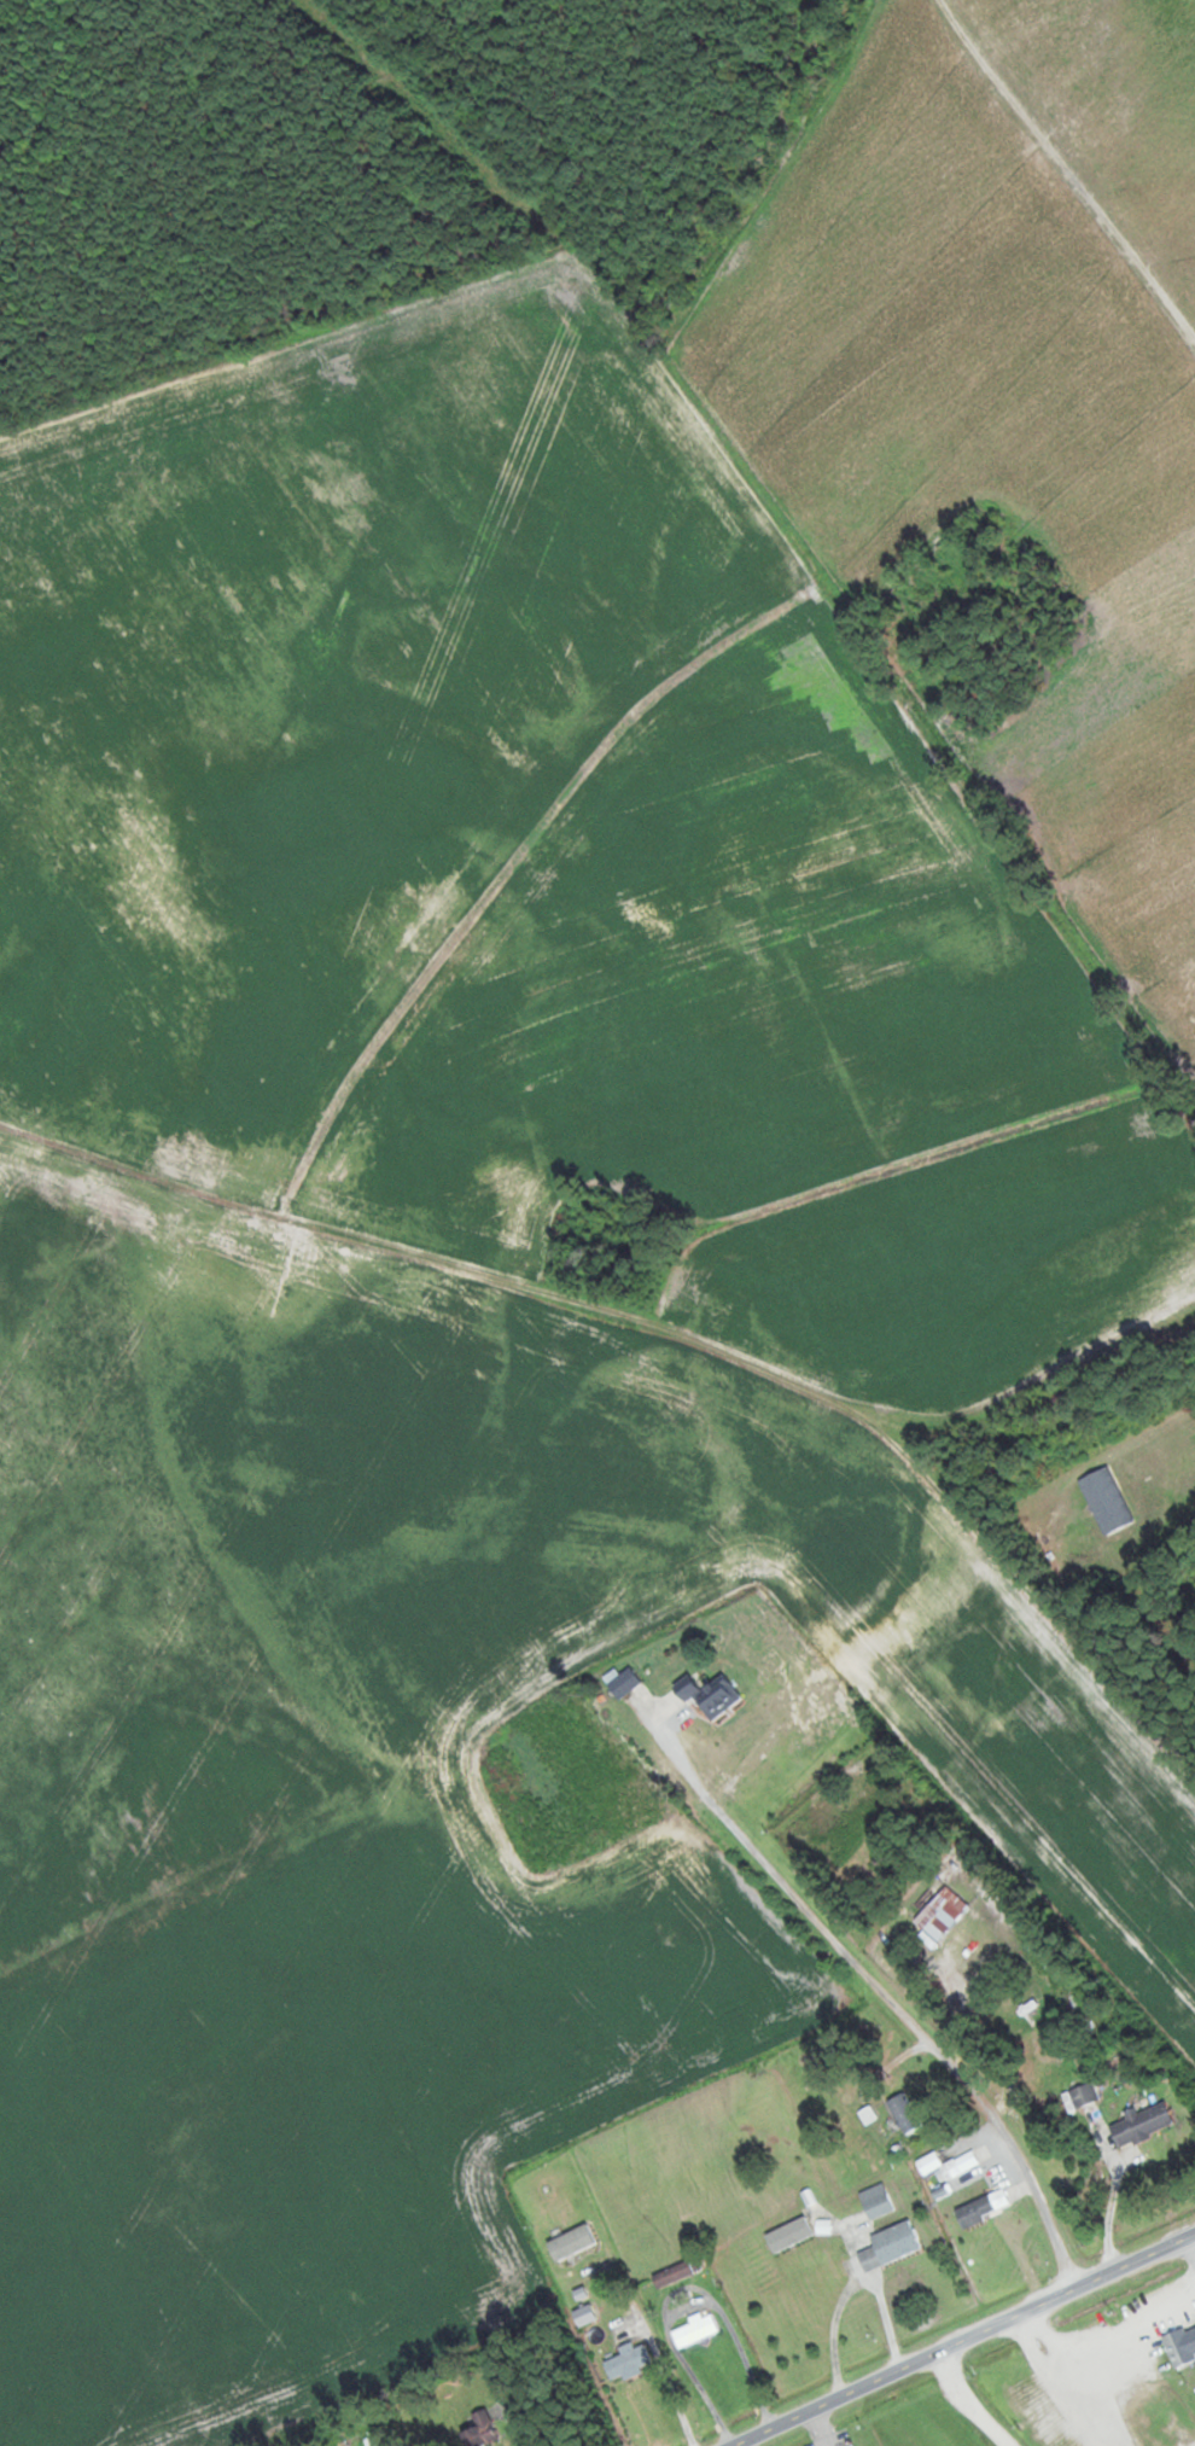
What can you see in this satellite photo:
road: (1067, 168)
building: (1104, 1501)
building: (622, 1681)
building: (709, 1694)
building: (940, 1912)
road: (900, 2003)
building: (1084, 2093)
building: (904, 2113)
building: (1141, 2124)
building: (949, 2166)
building: (876, 2201)
building: (975, 2211)
building: (789, 2234)
building: (890, 2244)
building: (676, 2272)
building: (581, 2306)
building: (694, 2330)
road: (963, 2341)
building: (1179, 2346)
building: (630, 2360)
road: (507, 2406)
building: (478, 2430)

